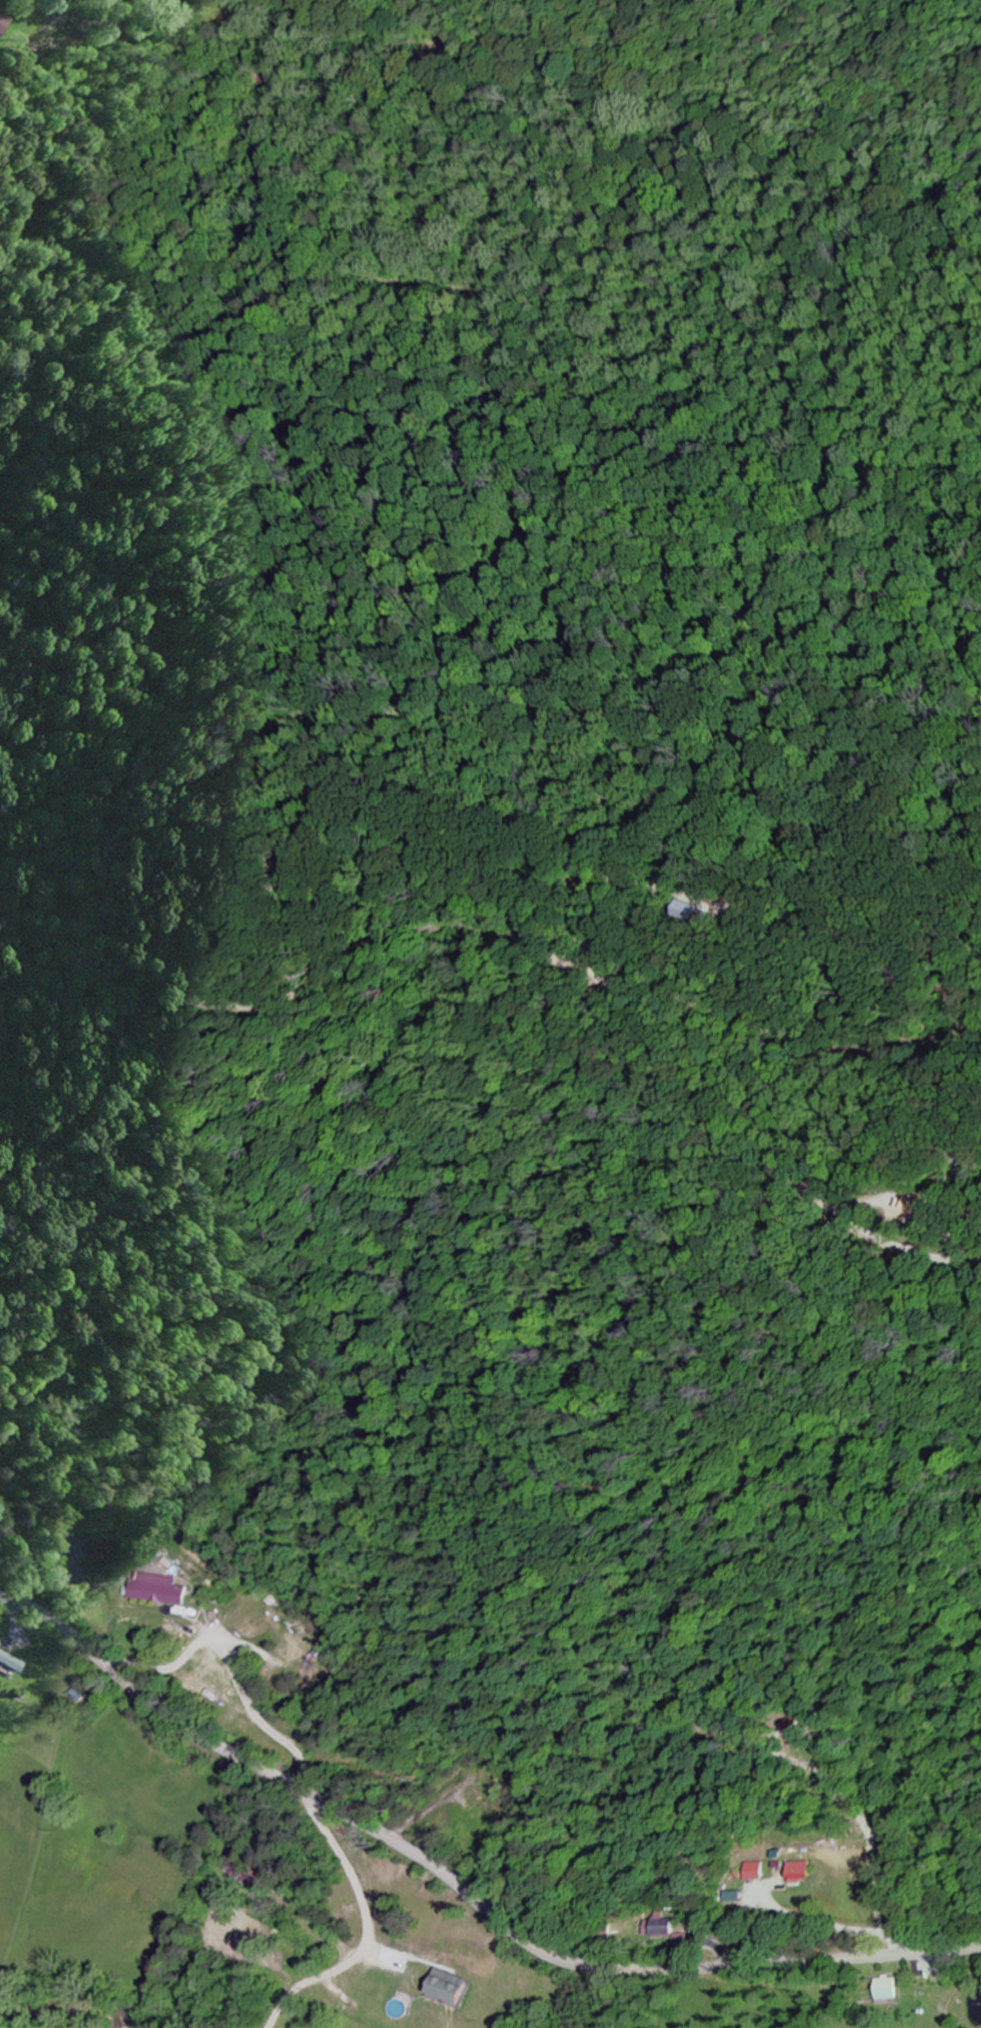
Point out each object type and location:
building: (0, 4)
building: (3, 23)
building: (161, 1589)
building: (11, 1661)
road: (302, 1779)
building: (752, 1871)
building: (801, 1871)
road: (459, 1888)
road: (203, 1895)
building: (732, 1897)
building: (661, 1925)
building: (680, 1939)
building: (449, 1987)
building: (887, 1988)

